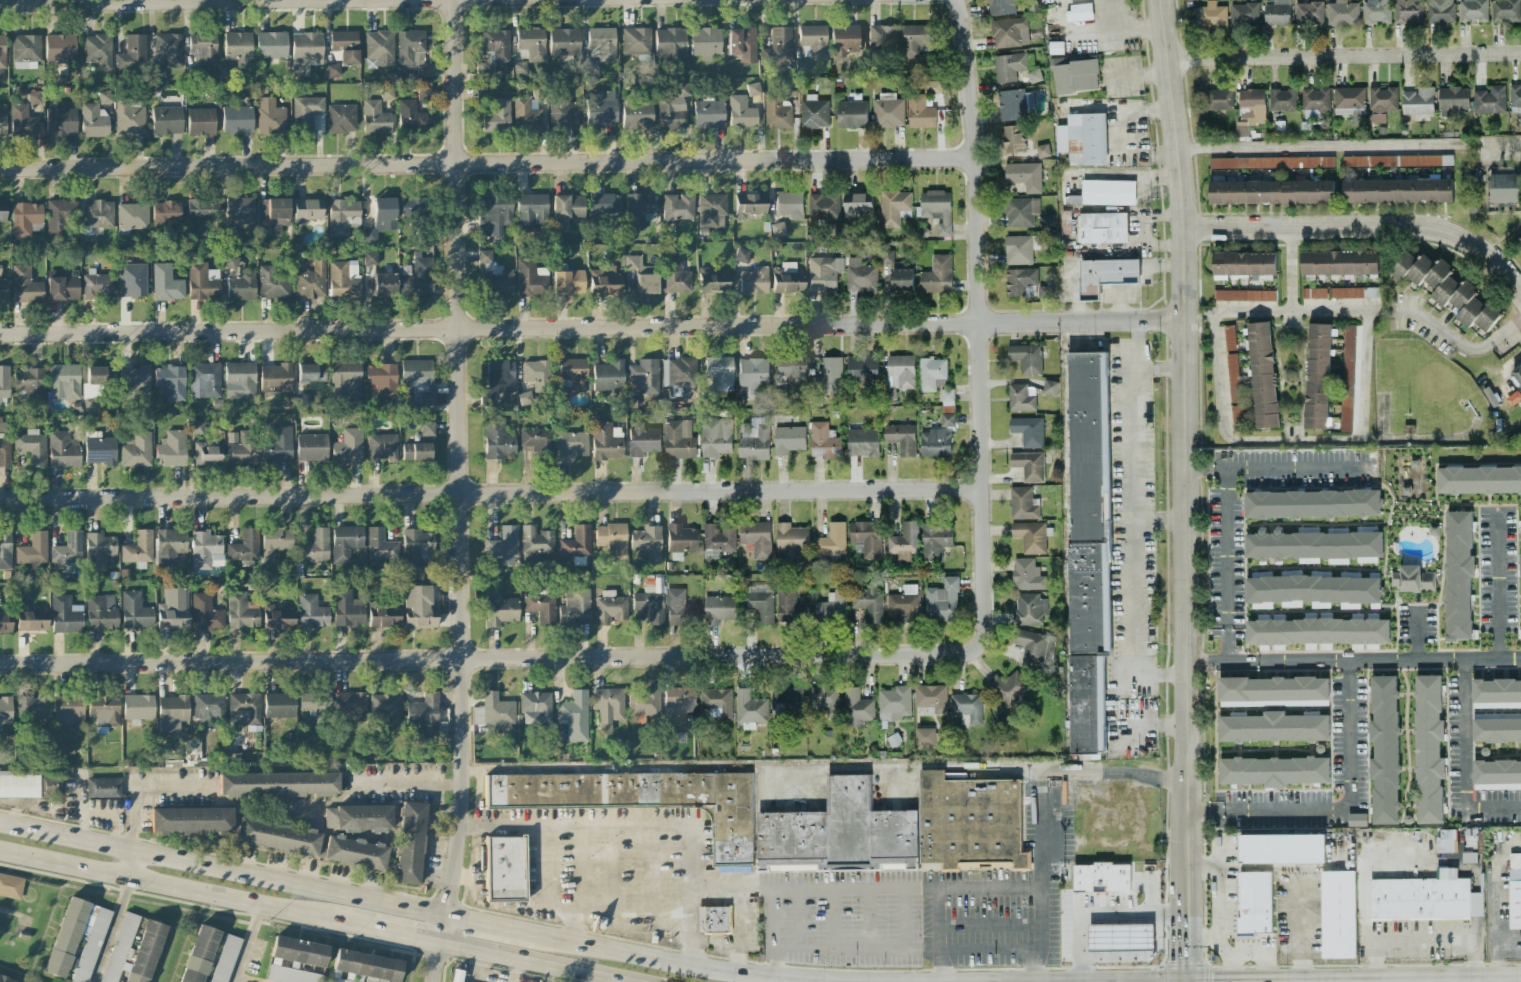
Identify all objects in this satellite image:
road: (143, 0)
building: (1001, 6)
building: (1440, 10)
building: (1473, 10)
building: (1505, 10)
building: (1079, 11)
building: (1376, 11)
building: (1408, 11)
building: (1309, 12)
building: (1342, 12)
building: (1277, 13)
building: (1212, 14)
building: (1243, 14)
building: (1012, 32)
building: (884, 36)
building: (916, 38)
building: (813, 40)
building: (844, 40)
building: (636, 41)
building: (564, 42)
building: (705, 42)
building: (532, 43)
building: (742, 43)
building: (496, 44)
building: (271, 45)
building: (670, 45)
building: (345, 46)
building: (600, 47)
building: (778, 47)
building: (60, 48)
building: (204, 48)
building: (238, 48)
building: (378, 49)
building: (25, 50)
building: (97, 50)
building: (168, 51)
building: (305, 52)
building: (132, 53)
road: (1345, 55)
building: (1009, 66)
building: (485, 69)
building: (333, 70)
building: (1034, 75)
building: (1075, 76)
building: (932, 86)
building: (753, 89)
building: (424, 93)
building: (104, 97)
building: (1218, 99)
building: (1282, 99)
building: (1315, 99)
building: (1452, 99)
building: (1489, 99)
building: (1349, 100)
building: (1417, 101)
building: (1381, 102)
building: (1015, 103)
building: (1252, 105)
building: (601, 108)
building: (887, 110)
road: (1133, 110)
building: (674, 111)
building: (814, 111)
building: (920, 111)
building: (305, 112)
building: (563, 112)
building: (741, 112)
building: (776, 112)
building: (852, 113)
building: (708, 114)
building: (410, 115)
building: (526, 115)
building: (636, 115)
building: (497, 116)
building: (129, 117)
building: (270, 117)
building: (341, 118)
building: (375, 118)
building: (2, 119)
building: (237, 119)
building: (61, 120)
building: (94, 120)
building: (167, 120)
building: (200, 121)
building: (22, 122)
building: (1012, 138)
building: (1083, 138)
road: (1348, 143)
building: (1042, 150)
building: (1396, 160)
building: (1271, 161)
road: (486, 162)
building: (1024, 175)
building: (1242, 177)
building: (1505, 187)
building: (1397, 190)
building: (1108, 191)
building: (1271, 191)
building: (857, 203)
building: (789, 204)
building: (748, 205)
building: (824, 205)
building: (567, 206)
building: (678, 206)
building: (411, 207)
building: (894, 207)
building: (602, 208)
building: (239, 210)
building: (307, 210)
building: (639, 210)
building: (711, 210)
building: (201, 211)
building: (530, 211)
building: (1020, 211)
building: (935, 212)
building: (97, 214)
building: (495, 214)
building: (165, 215)
building: (2, 216)
building: (272, 216)
building: (343, 216)
building: (59, 217)
building: (133, 217)
building: (26, 218)
building: (381, 218)
road: (1364, 225)
building: (1104, 227)
building: (777, 229)
building: (1518, 242)
building: (1019, 248)
building: (741, 255)
building: (484, 256)
building: (886, 256)
building: (369, 258)
building: (1339, 262)
building: (1244, 263)
road: (1289, 267)
building: (643, 274)
building: (822, 274)
building: (937, 274)
building: (860, 275)
building: (1106, 275)
building: (419, 276)
building: (675, 277)
building: (531, 278)
building: (901, 278)
building: (238, 279)
building: (311, 279)
building: (343, 279)
building: (787, 279)
building: (132, 280)
building: (498, 280)
building: (1019, 280)
building: (202, 281)
building: (604, 281)
building: (754, 281)
building: (1, 282)
building: (568, 282)
building: (166, 283)
building: (273, 283)
building: (384, 284)
building: (25, 285)
building: (97, 285)
building: (63, 287)
building: (1447, 288)
building: (1313, 292)
building: (1353, 292)
building: (1245, 294)
road: (1376, 311)
road: (976, 321)
road: (592, 327)
building: (1229, 337)
road: (1090, 345)
building: (1026, 357)
road: (1159, 367)
building: (862, 368)
building: (681, 370)
building: (793, 370)
building: (753, 371)
building: (311, 372)
building: (719, 372)
building: (930, 372)
building: (574, 373)
building: (536, 374)
building: (1262, 374)
building: (1517, 374)
building: (828, 375)
building: (898, 375)
building: (1317, 375)
building: (608, 376)
building: (643, 377)
building: (1233, 377)
building: (1347, 377)
building: (275, 378)
building: (345, 379)
building: (382, 379)
building: (498, 379)
building: (205, 380)
building: (239, 380)
building: (64, 381)
building: (93, 381)
building: (418, 381)
building: (30, 382)
building: (134, 382)
building: (171, 382)
building: (4, 384)
building: (1049, 387)
building: (947, 396)
building: (525, 397)
building: (1021, 397)
building: (1236, 417)
building: (947, 419)
building: (196, 426)
building: (427, 428)
building: (1028, 430)
building: (715, 436)
building: (901, 438)
building: (643, 439)
building: (788, 439)
building: (497, 440)
building: (679, 440)
road: (1290, 440)
building: (606, 441)
building: (753, 441)
building: (823, 441)
building: (862, 441)
building: (537, 442)
building: (935, 443)
building: (277, 445)
building: (570, 445)
building: (31, 446)
building: (240, 447)
building: (311, 447)
building: (348, 447)
building: (382, 447)
building: (171, 448)
building: (63, 449)
building: (99, 449)
building: (137, 450)
building: (416, 451)
building: (207, 454)
building: (1028, 465)
road: (1279, 469)
building: (1478, 479)
road: (1185, 490)
road: (458, 491)
road: (489, 492)
building: (1023, 503)
building: (1311, 503)
road: (1134, 504)
building: (1520, 515)
road: (1160, 519)
building: (1030, 536)
building: (756, 537)
building: (866, 537)
building: (612, 539)
building: (535, 540)
building: (681, 540)
building: (717, 540)
building: (831, 540)
building: (935, 540)
building: (904, 541)
building: (275, 542)
building: (345, 542)
building: (576, 542)
building: (790, 542)
building: (647, 543)
building: (1313, 544)
building: (315, 545)
building: (380, 545)
building: (503, 545)
building: (169, 546)
building: (244, 546)
building: (1088, 546)
building: (417, 547)
building: (138, 548)
building: (5, 549)
building: (33, 549)
building: (68, 549)
building: (98, 550)
building: (205, 550)
road: (1226, 565)
building: (1027, 574)
building: (1458, 574)
building: (1412, 579)
road: (1501, 579)
building: (1312, 588)
building: (941, 599)
building: (869, 602)
building: (903, 602)
building: (650, 603)
building: (759, 605)
building: (789, 606)
building: (418, 607)
building: (540, 607)
building: (574, 607)
building: (347, 608)
building: (609, 608)
building: (680, 608)
building: (719, 608)
building: (173, 609)
building: (500, 609)
building: (1030, 609)
building: (135, 611)
building: (240, 612)
building: (311, 612)
building: (101, 613)
building: (206, 613)
building: (65, 615)
building: (383, 616)
building: (277, 618)
building: (32, 620)
building: (4, 623)
building: (1317, 630)
building: (1031, 645)
road: (489, 658)
road: (1363, 659)
road: (1269, 660)
road: (1161, 672)
building: (1009, 686)
building: (1272, 688)
building: (1496, 693)
building: (931, 697)
building: (822, 699)
building: (312, 701)
building: (716, 701)
building: (349, 702)
building: (679, 702)
building: (894, 702)
building: (786, 703)
building: (643, 704)
building: (279, 705)
building: (138, 706)
building: (608, 706)
building: (750, 706)
building: (33, 707)
building: (208, 707)
building: (386, 707)
building: (856, 707)
building: (967, 707)
building: (535, 708)
building: (67, 709)
building: (104, 709)
building: (244, 709)
building: (5, 710)
building: (494, 710)
building: (172, 712)
building: (424, 713)
building: (574, 715)
building: (1274, 727)
building: (1496, 727)
building: (925, 735)
building: (1384, 749)
building: (1428, 749)
road: (1465, 761)
road: (1072, 769)
building: (1273, 770)
building: (1497, 773)
building: (19, 784)
building: (279, 784)
road: (143, 785)
road: (405, 785)
building: (50, 786)
building: (103, 787)
building: (642, 799)
road: (1268, 808)
road: (519, 815)
building: (358, 818)
building: (1357, 819)
building: (191, 820)
road: (1040, 826)
building: (901, 827)
building: (278, 836)
building: (1447, 840)
building: (410, 843)
building: (1282, 848)
building: (355, 852)
road: (541, 859)
road: (130, 864)
road: (223, 867)
building: (505, 868)
building: (1101, 877)
road: (987, 881)
road: (1360, 881)
road: (1497, 884)
building: (10, 886)
road: (169, 888)
road: (844, 888)
building: (1514, 889)
building: (1425, 897)
building: (1255, 903)
road: (1216, 911)
building: (1337, 913)
road: (1099, 914)
road: (796, 918)
road: (832, 918)
road: (867, 918)
road: (903, 918)
building: (714, 919)
road: (492, 924)
road: (573, 927)
road: (1298, 927)
road: (111, 931)
road: (776, 932)
road: (1201, 932)
road: (390, 933)
building: (1120, 937)
road: (1442, 939)
building: (77, 940)
road: (1510, 940)
building: (120, 943)
road: (246, 944)
road: (858, 948)
building: (299, 951)
building: (197, 954)
road: (1136, 957)
road: (1259, 957)
building: (223, 958)
road: (1499, 958)
road: (531, 962)
building: (364, 967)
road: (691, 967)
road: (549, 974)
building: (291, 975)
building: (456, 975)
road: (1428, 976)
building: (7, 979)
road: (246, 979)
road: (755, 979)
road: (1413, 979)
traffic signals: (1185, 981)

